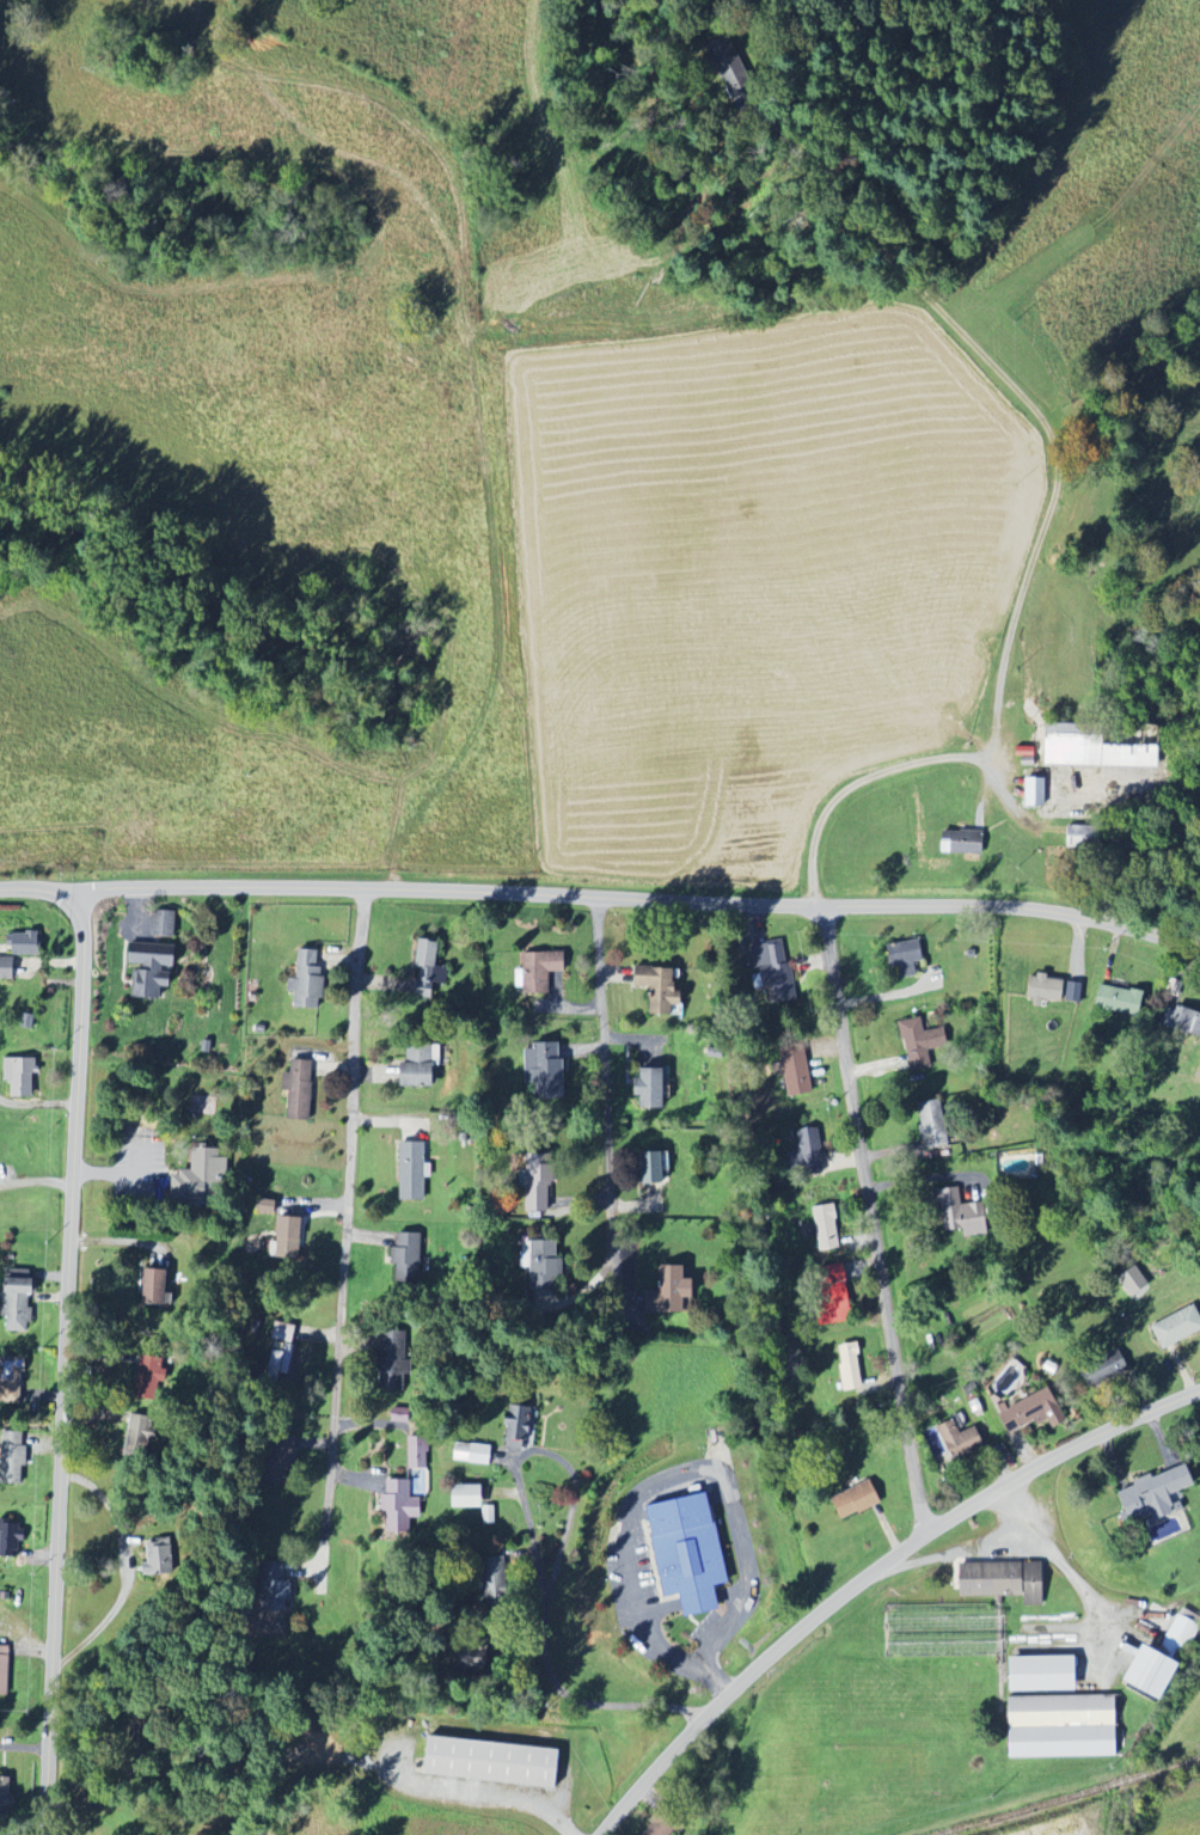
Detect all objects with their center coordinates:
road: (911, 765)
building: (1035, 791)
building: (965, 843)
road: (41, 888)
road: (643, 898)
building: (165, 924)
building: (27, 944)
building: (906, 956)
building: (427, 968)
building: (7, 970)
building: (152, 970)
building: (541, 971)
building: (776, 973)
building: (308, 980)
building: (661, 989)
building: (1048, 990)
building: (1121, 999)
building: (1183, 1020)
building: (922, 1044)
building: (421, 1066)
building: (546, 1070)
building: (797, 1071)
building: (20, 1076)
building: (653, 1088)
building: (300, 1090)
road: (604, 1095)
building: (933, 1125)
building: (808, 1149)
building: (656, 1168)
road: (118, 1173)
building: (414, 1173)
building: (201, 1180)
building: (541, 1186)
road: (342, 1215)
building: (962, 1215)
road: (873, 1219)
building: (827, 1228)
building: (290, 1237)
building: (409, 1260)
building: (550, 1266)
building: (1137, 1283)
building: (154, 1286)
building: (669, 1291)
building: (18, 1302)
building: (1178, 1328)
building: (284, 1333)
building: (283, 1359)
building: (397, 1360)
road: (61, 1362)
building: (851, 1368)
building: (152, 1372)
building: (1102, 1375)
building: (11, 1381)
building: (1035, 1412)
building: (402, 1417)
building: (520, 1429)
building: (140, 1437)
building: (961, 1441)
building: (417, 1452)
building: (472, 1454)
building: (280, 1455)
building: (13, 1457)
road: (657, 1480)
building: (469, 1497)
building: (1157, 1499)
building: (857, 1500)
building: (399, 1504)
building: (11, 1541)
building: (690, 1552)
road: (955, 1552)
road: (535, 1554)
building: (163, 1556)
road: (1054, 1556)
road: (130, 1571)
road: (868, 1572)
building: (1004, 1580)
building: (275, 1582)
building: (1182, 1634)
building: (4, 1670)
building: (1156, 1672)
building: (1046, 1675)
building: (1064, 1727)
road: (22, 1750)
building: (492, 1762)
railway: (1069, 1796)
building: (5, 1797)
road: (501, 1798)
building: (665, 1824)

